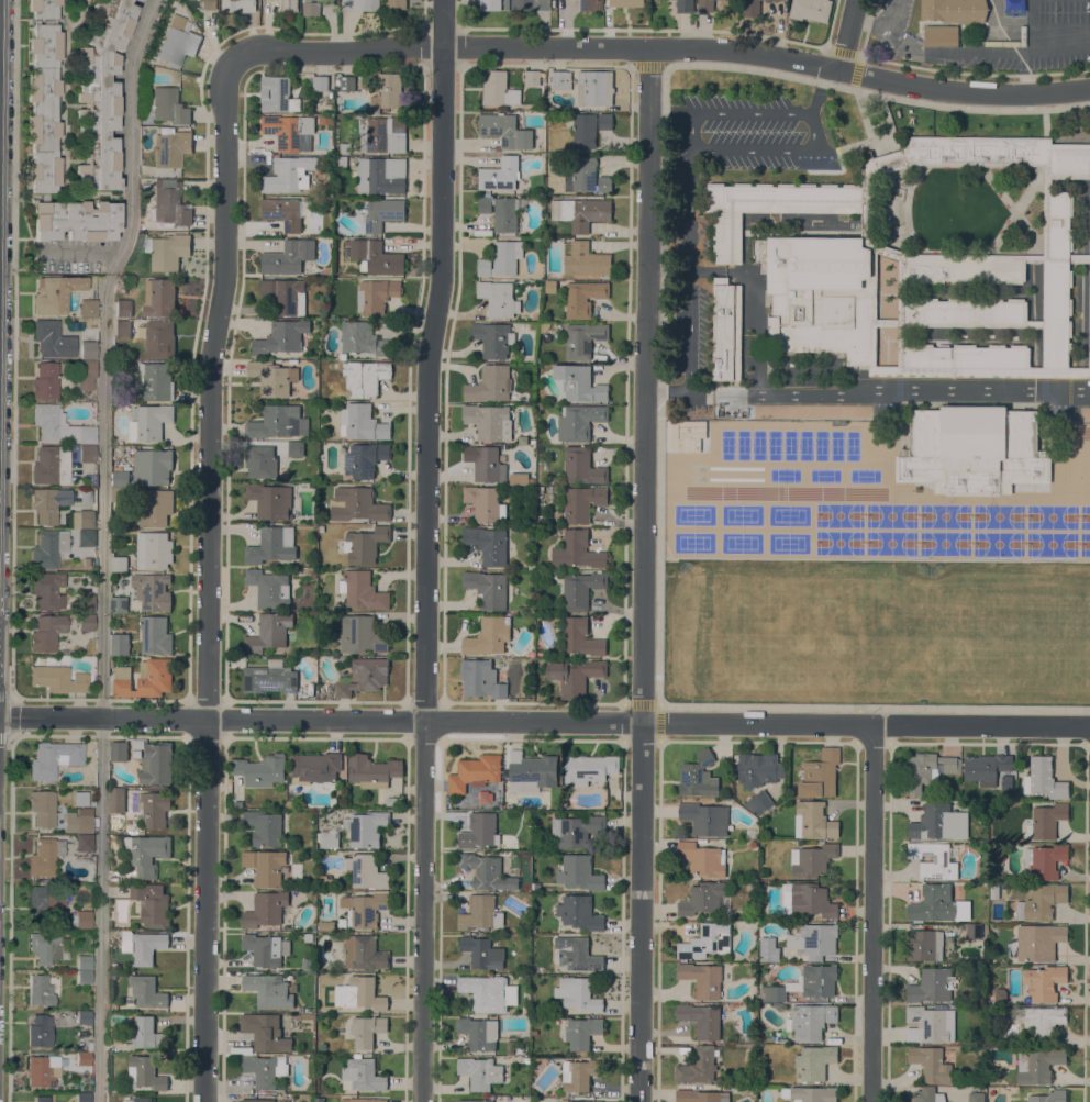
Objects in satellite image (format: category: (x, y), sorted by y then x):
building: (769, 0)
building: (776, 0)
building: (777, 0)
building: (626, 3)
building: (205, 4)
building: (360, 4)
building: (396, 4)
building: (490, 4)
building: (531, 4)
building: (588, 4)
building: (238, 5)
building: (290, 5)
building: (685, 5)
building: (705, 5)
building: (311, 8)
building: (750, 8)
building: (811, 9)
building: (955, 10)
road: (1030, 25)
road: (880, 26)
parking lot: (1057, 34)
road: (846, 35)
building: (941, 38)
building: (177, 42)
road: (440, 46)
road: (1059, 46)
road: (952, 49)
road: (745, 51)
building: (949, 60)
building: (532, 77)
building: (560, 79)
building: (320, 82)
building: (346, 82)
building: (594, 88)
building: (499, 89)
road: (820, 90)
building: (389, 91)
building: (43, 93)
road: (963, 93)
building: (99, 94)
building: (278, 94)
building: (167, 105)
building: (329, 107)
building: (325, 119)
building: (588, 126)
road: (815, 126)
building: (288, 130)
building: (505, 131)
building: (382, 133)
building: (171, 148)
building: (345, 148)
building: (1000, 152)
building: (341, 162)
building: (289, 174)
building: (500, 174)
building: (381, 175)
building: (587, 176)
building: (1063, 177)
building: (169, 203)
building: (770, 208)
building: (282, 212)
building: (501, 212)
building: (586, 212)
building: (381, 213)
building: (76, 220)
building: (1089, 235)
building: (167, 251)
building: (288, 256)
building: (376, 257)
building: (501, 258)
building: (1035, 258)
building: (1079, 258)
building: (586, 259)
road: (687, 266)
building: (965, 268)
building: (902, 270)
building: (1057, 278)
building: (54, 293)
building: (285, 294)
building: (377, 294)
building: (820, 294)
building: (159, 297)
building: (498, 298)
building: (582, 298)
building: (87, 308)
building: (123, 308)
building: (967, 312)
building: (1089, 313)
building: (1035, 323)
building: (122, 329)
building: (726, 330)
building: (281, 337)
building: (158, 338)
building: (363, 338)
building: (493, 338)
building: (582, 338)
building: (52, 339)
building: (1089, 346)
building: (88, 349)
building: (967, 360)
building: (1089, 365)
building: (1058, 371)
building: (86, 375)
building: (272, 377)
building: (365, 377)
building: (45, 381)
building: (156, 381)
building: (490, 383)
building: (578, 383)
road: (869, 392)
building: (727, 411)
building: (756, 411)
building: (811, 413)
building: (275, 421)
building: (489, 421)
building: (579, 421)
building: (151, 422)
building: (363, 422)
building: (58, 426)
building: (296, 448)
building: (972, 449)
building: (87, 454)
building: (365, 458)
building: (260, 461)
building: (486, 463)
building: (51, 465)
building: (152, 466)
building: (582, 466)
building: (121, 478)
building: (120, 494)
building: (85, 496)
building: (270, 500)
building: (582, 502)
building: (485, 503)
building: (48, 504)
building: (357, 504)
building: (155, 508)
building: (82, 519)
building: (366, 544)
building: (488, 544)
building: (271, 545)
building: (56, 546)
road: (104, 546)
building: (154, 550)
road: (430, 550)
building: (577, 550)
building: (119, 563)
building: (312, 574)
road: (646, 574)
road: (212, 581)
building: (488, 587)
building: (269, 588)
building: (47, 590)
building: (362, 590)
building: (581, 590)
building: (152, 591)
building: (86, 603)
building: (119, 604)
building: (86, 622)
building: (269, 632)
building: (46, 633)
building: (155, 635)
building: (362, 635)
building: (488, 636)
building: (580, 637)
building: (120, 644)
building: (111, 661)
building: (364, 676)
building: (575, 676)
building: (145, 678)
building: (270, 678)
building: (58, 679)
building: (480, 679)
road: (544, 724)
building: (137, 744)
building: (119, 750)
building: (54, 758)
building: (156, 763)
building: (314, 767)
building: (986, 767)
building: (589, 768)
building: (260, 769)
building: (758, 769)
building: (927, 769)
building: (372, 770)
building: (531, 771)
building: (475, 772)
building: (820, 773)
building: (698, 776)
building: (1044, 779)
building: (1006, 782)
building: (116, 800)
building: (393, 800)
building: (758, 802)
building: (290, 803)
building: (42, 808)
building: (154, 808)
building: (705, 817)
building: (84, 820)
building: (814, 821)
building: (1045, 821)
building: (938, 822)
building: (264, 827)
building: (358, 830)
building: (576, 830)
building: (479, 831)
building: (84, 843)
building: (147, 853)
building: (44, 857)
building: (703, 858)
building: (812, 859)
building: (933, 860)
building: (1044, 860)
building: (265, 866)
building: (367, 871)
building: (487, 871)
building: (579, 872)
building: (325, 880)
building: (536, 886)
building: (994, 890)
building: (786, 894)
building: (702, 898)
building: (810, 899)
building: (46, 900)
building: (1041, 902)
building: (152, 903)
building: (933, 903)
building: (265, 909)
building: (365, 909)
building: (480, 912)
building: (579, 912)
road: (875, 913)
building: (81, 919)
building: (342, 922)
building: (325, 925)
building: (974, 930)
building: (309, 937)
building: (814, 939)
building: (707, 940)
building: (1038, 942)
building: (143, 945)
building: (924, 945)
building: (285, 946)
building: (44, 947)
building: (263, 949)
building: (769, 949)
building: (482, 951)
building: (364, 953)
building: (577, 954)
building: (84, 962)
building: (305, 962)
building: (84, 977)
building: (702, 978)
building: (1044, 981)
building: (804, 983)
building: (932, 986)
building: (40, 990)
building: (269, 990)
building: (146, 991)
building: (489, 992)
building: (359, 993)
building: (1000, 993)
building: (578, 994)
building: (526, 1010)
building: (84, 1017)
building: (701, 1020)
building: (810, 1021)
building: (1043, 1021)
building: (930, 1023)
building: (367, 1029)
building: (38, 1031)
building: (265, 1032)
building: (478, 1032)
building: (581, 1032)
building: (146, 1033)
building: (82, 1058)
building: (814, 1061)
building: (931, 1064)
building: (698, 1065)
building: (1038, 1065)
building: (265, 1069)
building: (43, 1070)
building: (480, 1071)
building: (145, 1072)
building: (362, 1075)
building: (579, 1075)
building: (811, 1093)
building: (701, 1095)
building: (928, 1095)
building: (82, 1097)
building: (976, 1097)
building: (1048, 1097)
building: (41, 1099)
building: (141, 1099)
building: (319, 1099)
building: (258, 1100)
building: (363, 1100)
building: (476, 1101)
building: (578, 1101)

